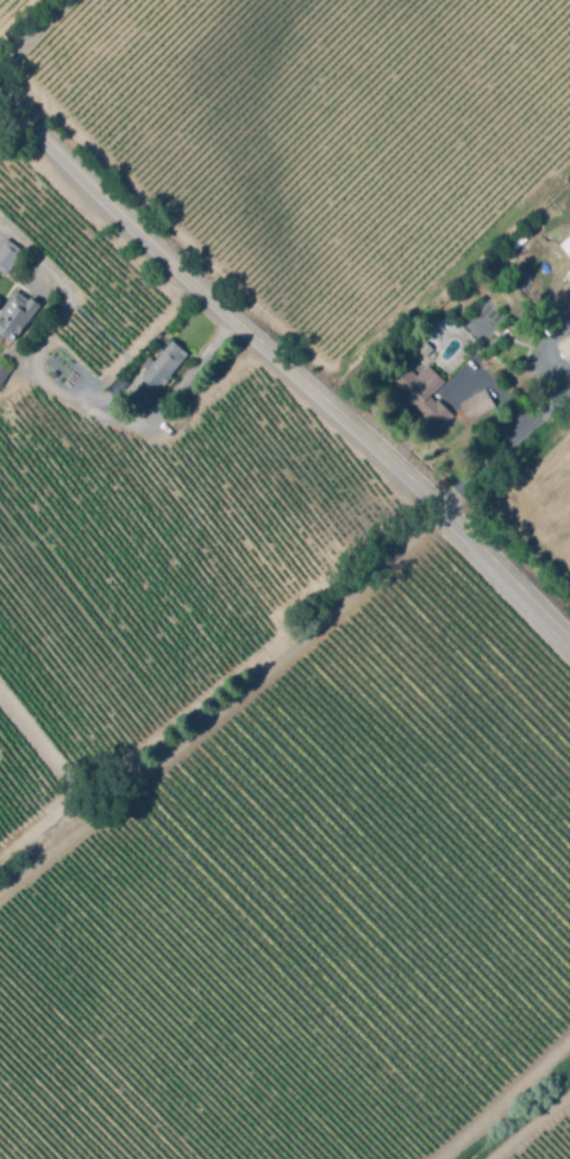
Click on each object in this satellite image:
road: (31, 31)
road: (10, 123)
building: (516, 241)
building: (566, 244)
building: (8, 255)
building: (15, 314)
building: (425, 348)
building: (565, 348)
building: (456, 361)
building: (164, 366)
road: (286, 367)
building: (4, 373)
building: (527, 387)
building: (421, 392)
road: (68, 397)
building: (477, 405)
road: (505, 455)

